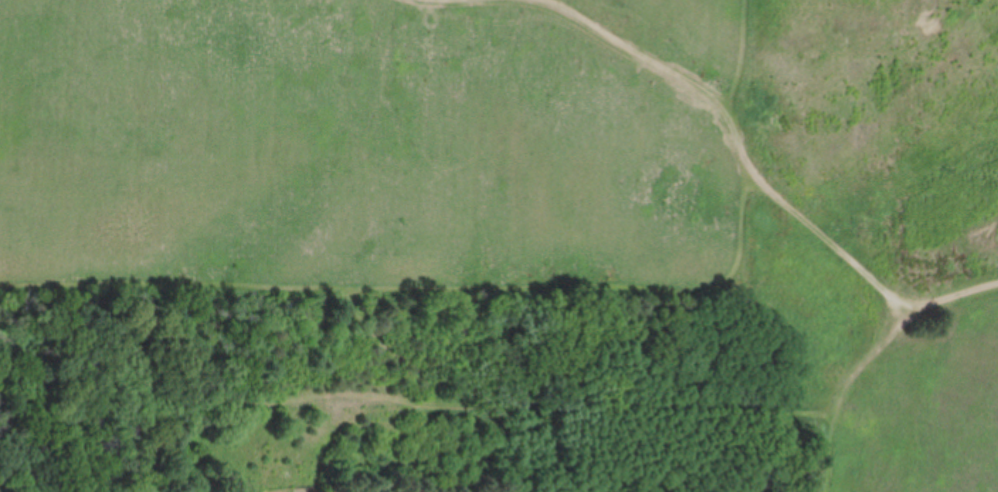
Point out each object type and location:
road: (643, 55)
road: (741, 60)
road: (738, 138)
road: (826, 237)
road: (428, 288)
road: (955, 294)
road: (843, 389)

